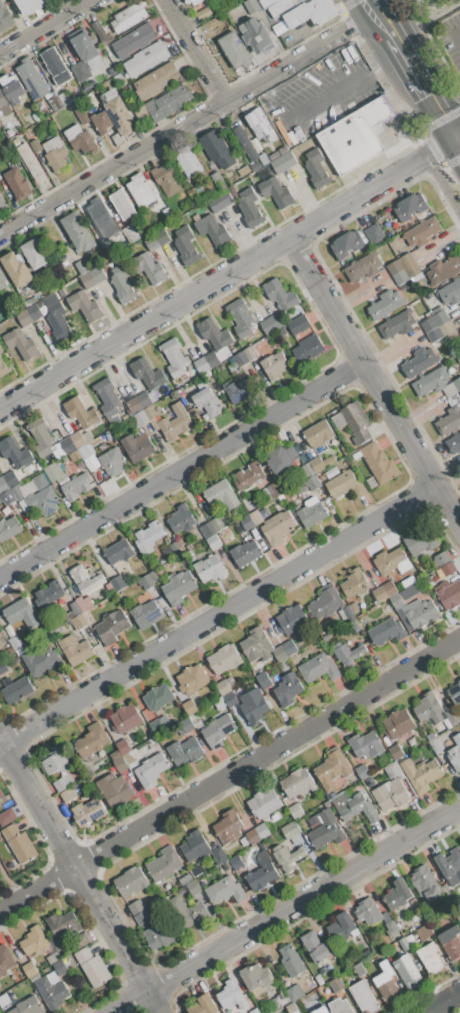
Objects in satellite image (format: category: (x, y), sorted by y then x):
building: (189, 1)
building: (267, 3)
building: (31, 5)
building: (252, 6)
building: (215, 7)
building: (283, 7)
road: (361, 8)
road: (387, 12)
building: (204, 13)
building: (304, 13)
building: (5, 18)
building: (128, 18)
road: (376, 21)
road: (44, 26)
building: (101, 33)
road: (455, 35)
building: (257, 36)
building: (134, 40)
building: (88, 49)
road: (197, 49)
building: (235, 50)
building: (146, 59)
building: (55, 66)
building: (80, 71)
building: (113, 72)
building: (32, 79)
building: (157, 80)
building: (120, 82)
road: (419, 83)
building: (12, 89)
road: (343, 89)
building: (50, 94)
building: (3, 97)
building: (64, 98)
building: (55, 103)
building: (169, 103)
building: (40, 105)
building: (0, 110)
building: (119, 113)
building: (82, 115)
building: (35, 117)
building: (102, 122)
road: (183, 125)
building: (260, 125)
building: (41, 128)
building: (9, 132)
building: (356, 136)
road: (456, 137)
building: (81, 139)
building: (117, 139)
road: (456, 139)
traffic signals: (453, 140)
building: (15, 141)
building: (245, 141)
building: (35, 146)
road: (456, 146)
road: (437, 148)
building: (217, 149)
building: (282, 150)
building: (55, 154)
building: (274, 156)
building: (30, 162)
building: (188, 163)
building: (284, 163)
building: (255, 166)
building: (316, 168)
building: (244, 171)
building: (166, 180)
building: (218, 181)
building: (17, 183)
road: (442, 184)
building: (140, 190)
building: (276, 192)
building: (1, 199)
building: (219, 201)
building: (122, 204)
building: (410, 207)
building: (250, 208)
building: (168, 214)
building: (101, 217)
building: (213, 230)
building: (78, 231)
building: (131, 232)
building: (422, 232)
building: (374, 233)
building: (156, 240)
building: (347, 245)
building: (186, 246)
building: (35, 254)
building: (80, 266)
building: (363, 267)
building: (150, 268)
building: (16, 269)
building: (404, 269)
building: (444, 269)
building: (93, 277)
building: (2, 280)
road: (210, 283)
building: (122, 285)
building: (451, 292)
building: (280, 295)
building: (51, 300)
building: (85, 305)
building: (385, 305)
building: (29, 315)
building: (241, 318)
building: (271, 323)
building: (59, 324)
building: (437, 324)
building: (299, 325)
building: (396, 325)
building: (458, 329)
building: (214, 334)
building: (21, 344)
building: (258, 345)
building: (0, 346)
building: (0, 349)
building: (307, 350)
building: (174, 357)
building: (240, 359)
building: (419, 362)
building: (207, 363)
building: (275, 365)
building: (3, 368)
building: (147, 373)
building: (431, 381)
road: (374, 384)
building: (457, 384)
building: (238, 390)
building: (107, 398)
building: (137, 402)
building: (207, 402)
building: (81, 413)
building: (145, 416)
building: (448, 421)
building: (174, 422)
building: (353, 422)
building: (319, 433)
building: (41, 437)
building: (87, 437)
building: (72, 443)
building: (454, 443)
building: (137, 447)
building: (15, 453)
building: (282, 460)
building: (347, 460)
building: (112, 461)
building: (321, 463)
building: (379, 464)
road: (181, 471)
building: (306, 471)
building: (54, 472)
building: (332, 473)
building: (248, 475)
building: (261, 482)
building: (312, 482)
building: (346, 483)
building: (76, 486)
building: (9, 493)
building: (269, 493)
building: (220, 497)
building: (43, 501)
building: (278, 507)
building: (263, 513)
building: (312, 515)
building: (181, 519)
building: (247, 523)
building: (217, 524)
building: (278, 528)
building: (9, 529)
building: (206, 530)
building: (148, 537)
building: (420, 541)
building: (213, 542)
building: (171, 550)
building: (118, 551)
building: (245, 553)
building: (441, 559)
building: (391, 562)
building: (210, 569)
building: (446, 571)
building: (85, 579)
building: (147, 582)
building: (407, 582)
building: (118, 583)
building: (355, 583)
building: (178, 587)
building: (390, 588)
building: (49, 593)
building: (380, 594)
building: (449, 595)
building: (84, 603)
building: (325, 603)
building: (76, 608)
building: (354, 608)
building: (18, 610)
building: (420, 612)
building: (145, 613)
building: (348, 613)
road: (216, 616)
building: (292, 619)
building: (79, 621)
building: (355, 624)
building: (112, 627)
building: (386, 632)
building: (16, 643)
building: (257, 646)
building: (289, 648)
building: (76, 650)
building: (279, 653)
building: (348, 654)
building: (0, 656)
building: (224, 659)
building: (43, 662)
building: (3, 666)
building: (318, 668)
building: (459, 674)
building: (192, 679)
building: (264, 680)
building: (7, 682)
building: (223, 687)
building: (287, 689)
building: (17, 690)
building: (455, 692)
building: (158, 697)
building: (230, 700)
building: (220, 703)
building: (189, 707)
building: (429, 708)
building: (255, 709)
building: (459, 716)
building: (452, 717)
building: (126, 718)
building: (163, 721)
building: (398, 724)
building: (156, 726)
building: (218, 731)
building: (92, 740)
building: (365, 744)
building: (434, 745)
building: (123, 746)
building: (185, 751)
building: (395, 751)
building: (455, 753)
building: (115, 755)
building: (129, 758)
building: (55, 760)
building: (120, 764)
building: (151, 769)
building: (332, 769)
building: (391, 769)
building: (362, 771)
road: (229, 774)
building: (420, 774)
building: (64, 782)
building: (297, 782)
building: (369, 782)
building: (116, 789)
building: (71, 792)
building: (1, 794)
building: (390, 794)
building: (264, 802)
building: (355, 807)
building: (88, 811)
building: (296, 811)
building: (7, 816)
building: (228, 827)
building: (262, 830)
building: (291, 830)
building: (326, 830)
building: (253, 836)
building: (245, 840)
building: (19, 843)
building: (194, 846)
building: (219, 855)
building: (288, 857)
building: (236, 862)
building: (449, 862)
building: (164, 863)
building: (262, 872)
road: (79, 878)
building: (186, 879)
building: (130, 881)
building: (426, 882)
building: (194, 887)
building: (225, 890)
building: (397, 894)
building: (136, 907)
road: (286, 908)
building: (368, 911)
building: (183, 913)
building: (142, 917)
building: (63, 925)
building: (459, 925)
building: (341, 926)
building: (391, 928)
building: (424, 932)
building: (160, 936)
building: (34, 940)
building: (78, 942)
building: (451, 942)
building: (404, 943)
building: (56, 944)
building: (315, 946)
building: (83, 955)
building: (430, 957)
building: (5, 960)
building: (291, 961)
building: (59, 967)
building: (28, 969)
building: (359, 969)
building: (406, 969)
building: (96, 971)
building: (256, 976)
building: (319, 979)
building: (387, 983)
building: (336, 984)
building: (51, 993)
building: (295, 993)
building: (232, 995)
building: (364, 997)
road: (442, 1002)
building: (3, 1003)
building: (203, 1005)
building: (274, 1005)
building: (27, 1006)
building: (340, 1006)
building: (292, 1008)
building: (320, 1009)

